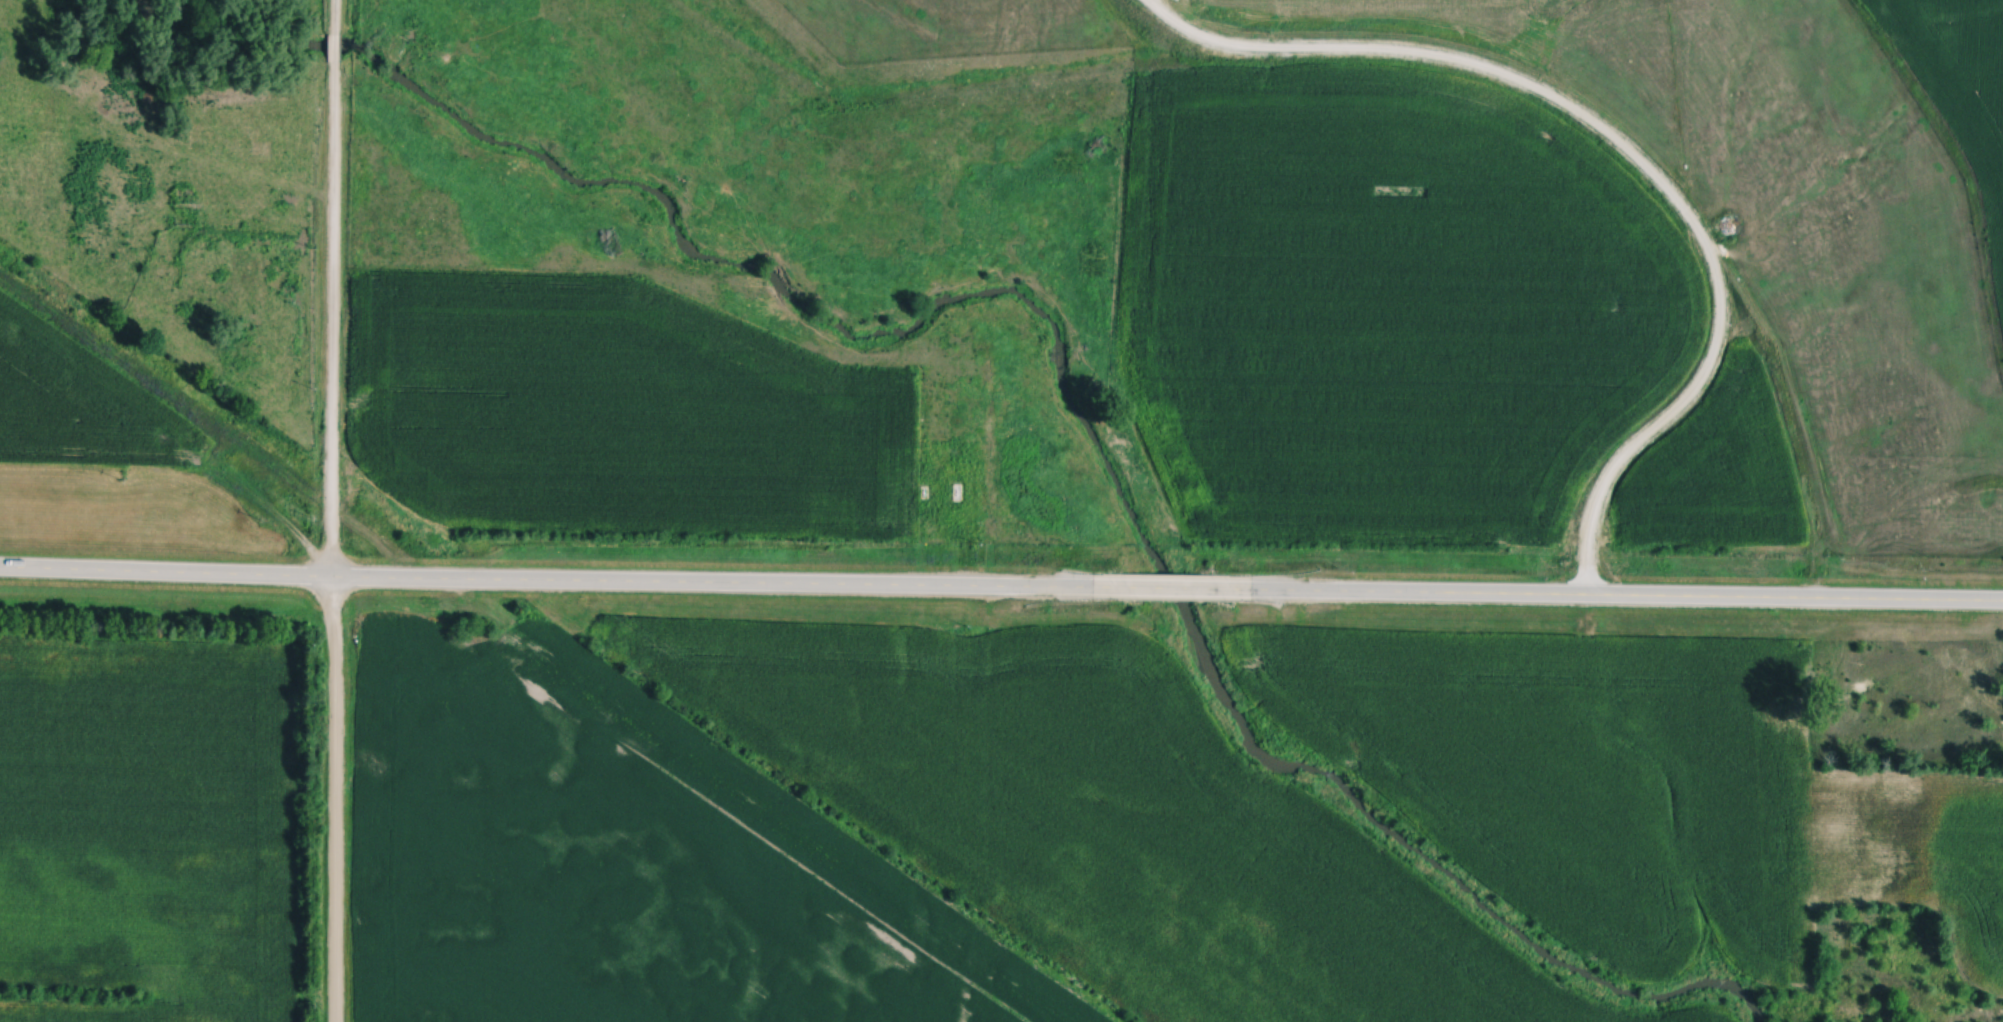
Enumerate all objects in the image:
road: (334, 16)
road: (334, 48)
river: (1040, 317)
road: (332, 542)
road: (562, 582)
road: (1163, 586)
road: (1601, 596)

